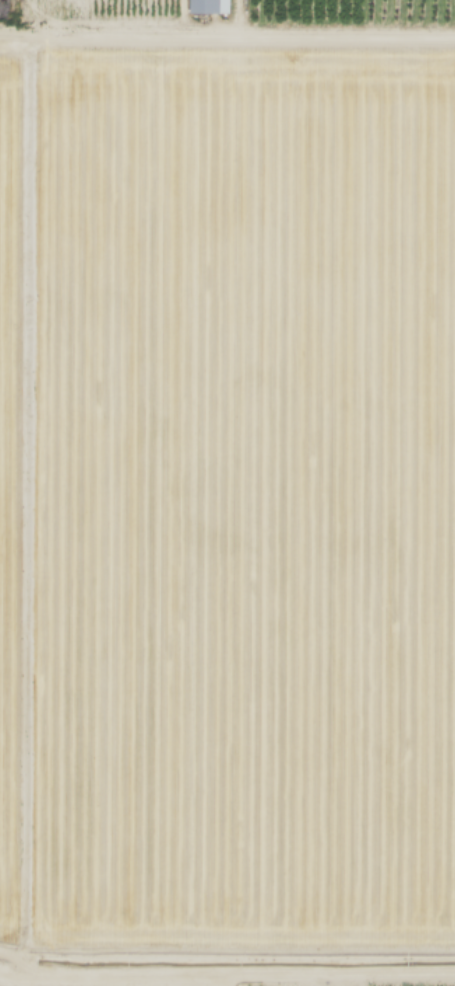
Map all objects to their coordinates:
building: (208, 6)
road: (227, 33)
building: (49, 713)
building: (49, 754)
building: (48, 794)
building: (48, 841)

